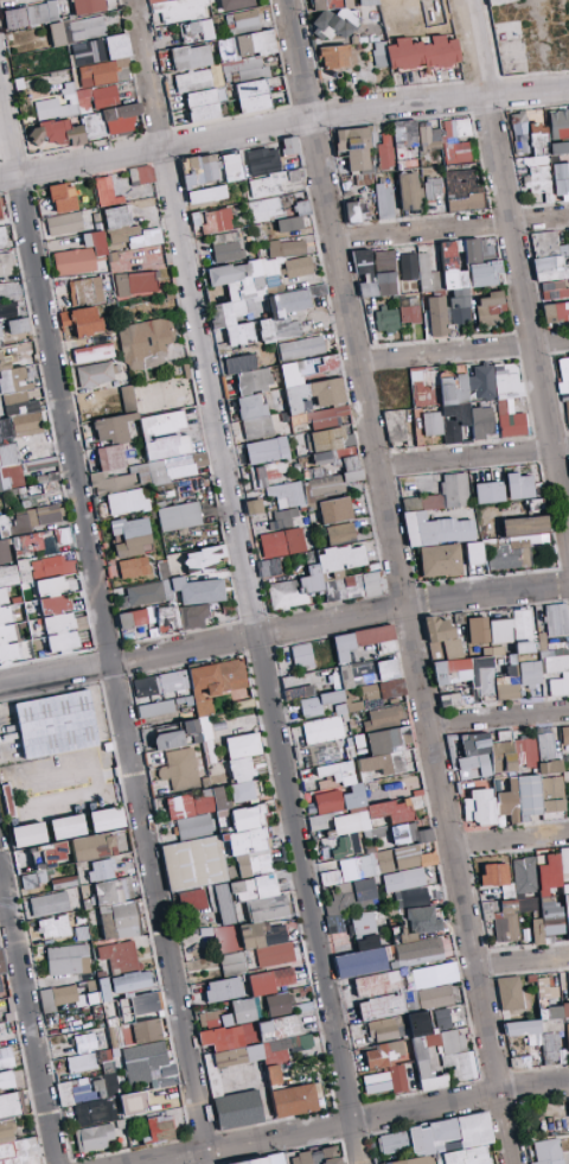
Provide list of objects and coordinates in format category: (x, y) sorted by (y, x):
building: (15, 0)
building: (20, 0)
building: (174, 0)
building: (158, 1)
building: (370, 2)
building: (235, 4)
building: (334, 4)
building: (349, 4)
building: (66, 5)
building: (319, 5)
building: (89, 6)
building: (181, 9)
building: (311, 9)
building: (206, 11)
building: (44, 13)
building: (68, 13)
building: (17, 18)
building: (69, 18)
building: (322, 19)
building: (231, 21)
building: (335, 23)
building: (347, 23)
building: (247, 24)
building: (382, 24)
building: (19, 28)
building: (88, 28)
building: (204, 28)
building: (314, 28)
building: (69, 33)
building: (325, 33)
building: (58, 34)
building: (190, 34)
building: (353, 39)
building: (106, 40)
building: (276, 40)
building: (252, 43)
building: (270, 43)
building: (119, 46)
building: (215, 46)
building: (360, 46)
road: (473, 46)
building: (39, 49)
building: (89, 52)
building: (423, 53)
building: (335, 56)
building: (382, 56)
building: (192, 57)
building: (72, 61)
building: (458, 62)
building: (124, 63)
building: (394, 68)
building: (428, 68)
building: (248, 69)
road: (146, 71)
building: (428, 71)
building: (102, 72)
building: (217, 74)
building: (124, 75)
building: (167, 77)
building: (194, 81)
building: (20, 83)
building: (88, 83)
building: (223, 83)
building: (78, 88)
building: (252, 95)
building: (107, 97)
building: (71, 101)
building: (85, 101)
building: (204, 103)
building: (49, 109)
building: (87, 126)
road: (7, 132)
building: (404, 133)
building: (448, 138)
building: (288, 145)
building: (353, 147)
building: (384, 152)
building: (533, 154)
building: (231, 166)
building: (199, 170)
building: (264, 170)
building: (141, 174)
building: (561, 179)
building: (433, 187)
building: (106, 190)
building: (408, 191)
building: (206, 193)
building: (63, 197)
building: (384, 202)
building: (264, 209)
building: (352, 211)
building: (211, 221)
building: (64, 223)
building: (289, 223)
building: (128, 229)
building: (568, 233)
building: (2, 237)
building: (95, 242)
building: (286, 247)
building: (226, 250)
building: (73, 261)
building: (298, 266)
building: (408, 266)
building: (550, 266)
building: (5, 267)
building: (423, 271)
building: (465, 273)
building: (372, 276)
building: (134, 282)
building: (85, 291)
building: (239, 294)
building: (7, 307)
building: (490, 307)
building: (556, 312)
building: (286, 313)
building: (409, 313)
building: (436, 316)
building: (82, 320)
building: (386, 320)
building: (18, 325)
building: (143, 341)
building: (301, 346)
building: (92, 352)
building: (95, 374)
building: (563, 374)
building: (311, 384)
building: (250, 393)
building: (452, 394)
building: (509, 399)
building: (567, 413)
building: (324, 415)
building: (13, 419)
building: (116, 420)
building: (481, 421)
building: (431, 422)
building: (395, 425)
building: (148, 434)
building: (267, 450)
building: (332, 460)
building: (107, 469)
building: (172, 469)
building: (268, 472)
building: (519, 485)
building: (488, 491)
building: (286, 494)
building: (441, 495)
building: (126, 501)
building: (254, 505)
building: (334, 510)
building: (50, 514)
building: (179, 516)
building: (282, 519)
building: (435, 529)
building: (340, 533)
building: (132, 536)
building: (516, 540)
building: (282, 542)
building: (4, 552)
building: (474, 553)
building: (203, 558)
building: (440, 560)
building: (51, 566)
building: (134, 567)
building: (269, 567)
building: (24, 570)
building: (8, 575)
building: (327, 579)
road: (399, 581)
building: (198, 590)
building: (142, 593)
building: (192, 616)
building: (556, 619)
building: (148, 622)
building: (477, 629)
building: (499, 630)
building: (522, 630)
building: (60, 632)
building: (12, 636)
building: (441, 636)
building: (364, 641)
building: (302, 655)
building: (530, 673)
building: (356, 674)
building: (466, 674)
building: (564, 675)
building: (389, 678)
building: (289, 682)
building: (159, 683)
building: (506, 683)
building: (369, 691)
building: (299, 693)
building: (459, 698)
building: (318, 702)
building: (203, 704)
building: (155, 708)
building: (384, 717)
building: (56, 724)
building: (322, 730)
building: (564, 734)
building: (168, 739)
building: (242, 745)
building: (545, 745)
building: (320, 751)
building: (385, 752)
building: (488, 753)
building: (549, 767)
building: (180, 768)
building: (568, 770)
building: (334, 775)
building: (242, 778)
building: (528, 796)
building: (561, 796)
building: (327, 801)
building: (507, 801)
building: (479, 806)
building: (248, 816)
building: (107, 819)
building: (356, 820)
building: (66, 826)
building: (219, 829)
building: (408, 833)
building: (27, 834)
building: (92, 847)
building: (52, 853)
building: (101, 869)
building: (199, 871)
building: (493, 874)
building: (34, 877)
building: (331, 877)
building: (402, 879)
building: (254, 888)
building: (544, 895)
building: (410, 896)
building: (190, 899)
building: (346, 901)
building: (49, 903)
building: (267, 908)
building: (490, 908)
building: (115, 911)
building: (510, 917)
building: (423, 918)
building: (53, 927)
building: (401, 935)
building: (257, 941)
building: (362, 948)
building: (417, 952)
building: (117, 954)
building: (68, 959)
building: (232, 962)
building: (1, 963)
building: (434, 975)
building: (269, 980)
building: (377, 984)
building: (568, 985)
building: (0, 987)
building: (223, 988)
building: (104, 990)
building: (545, 990)
building: (136, 991)
building: (509, 992)
building: (434, 997)
building: (63, 998)
building: (277, 1003)
building: (381, 1006)
building: (243, 1010)
building: (206, 1017)
building: (1, 1029)
building: (141, 1031)
building: (85, 1042)
building: (6, 1057)

